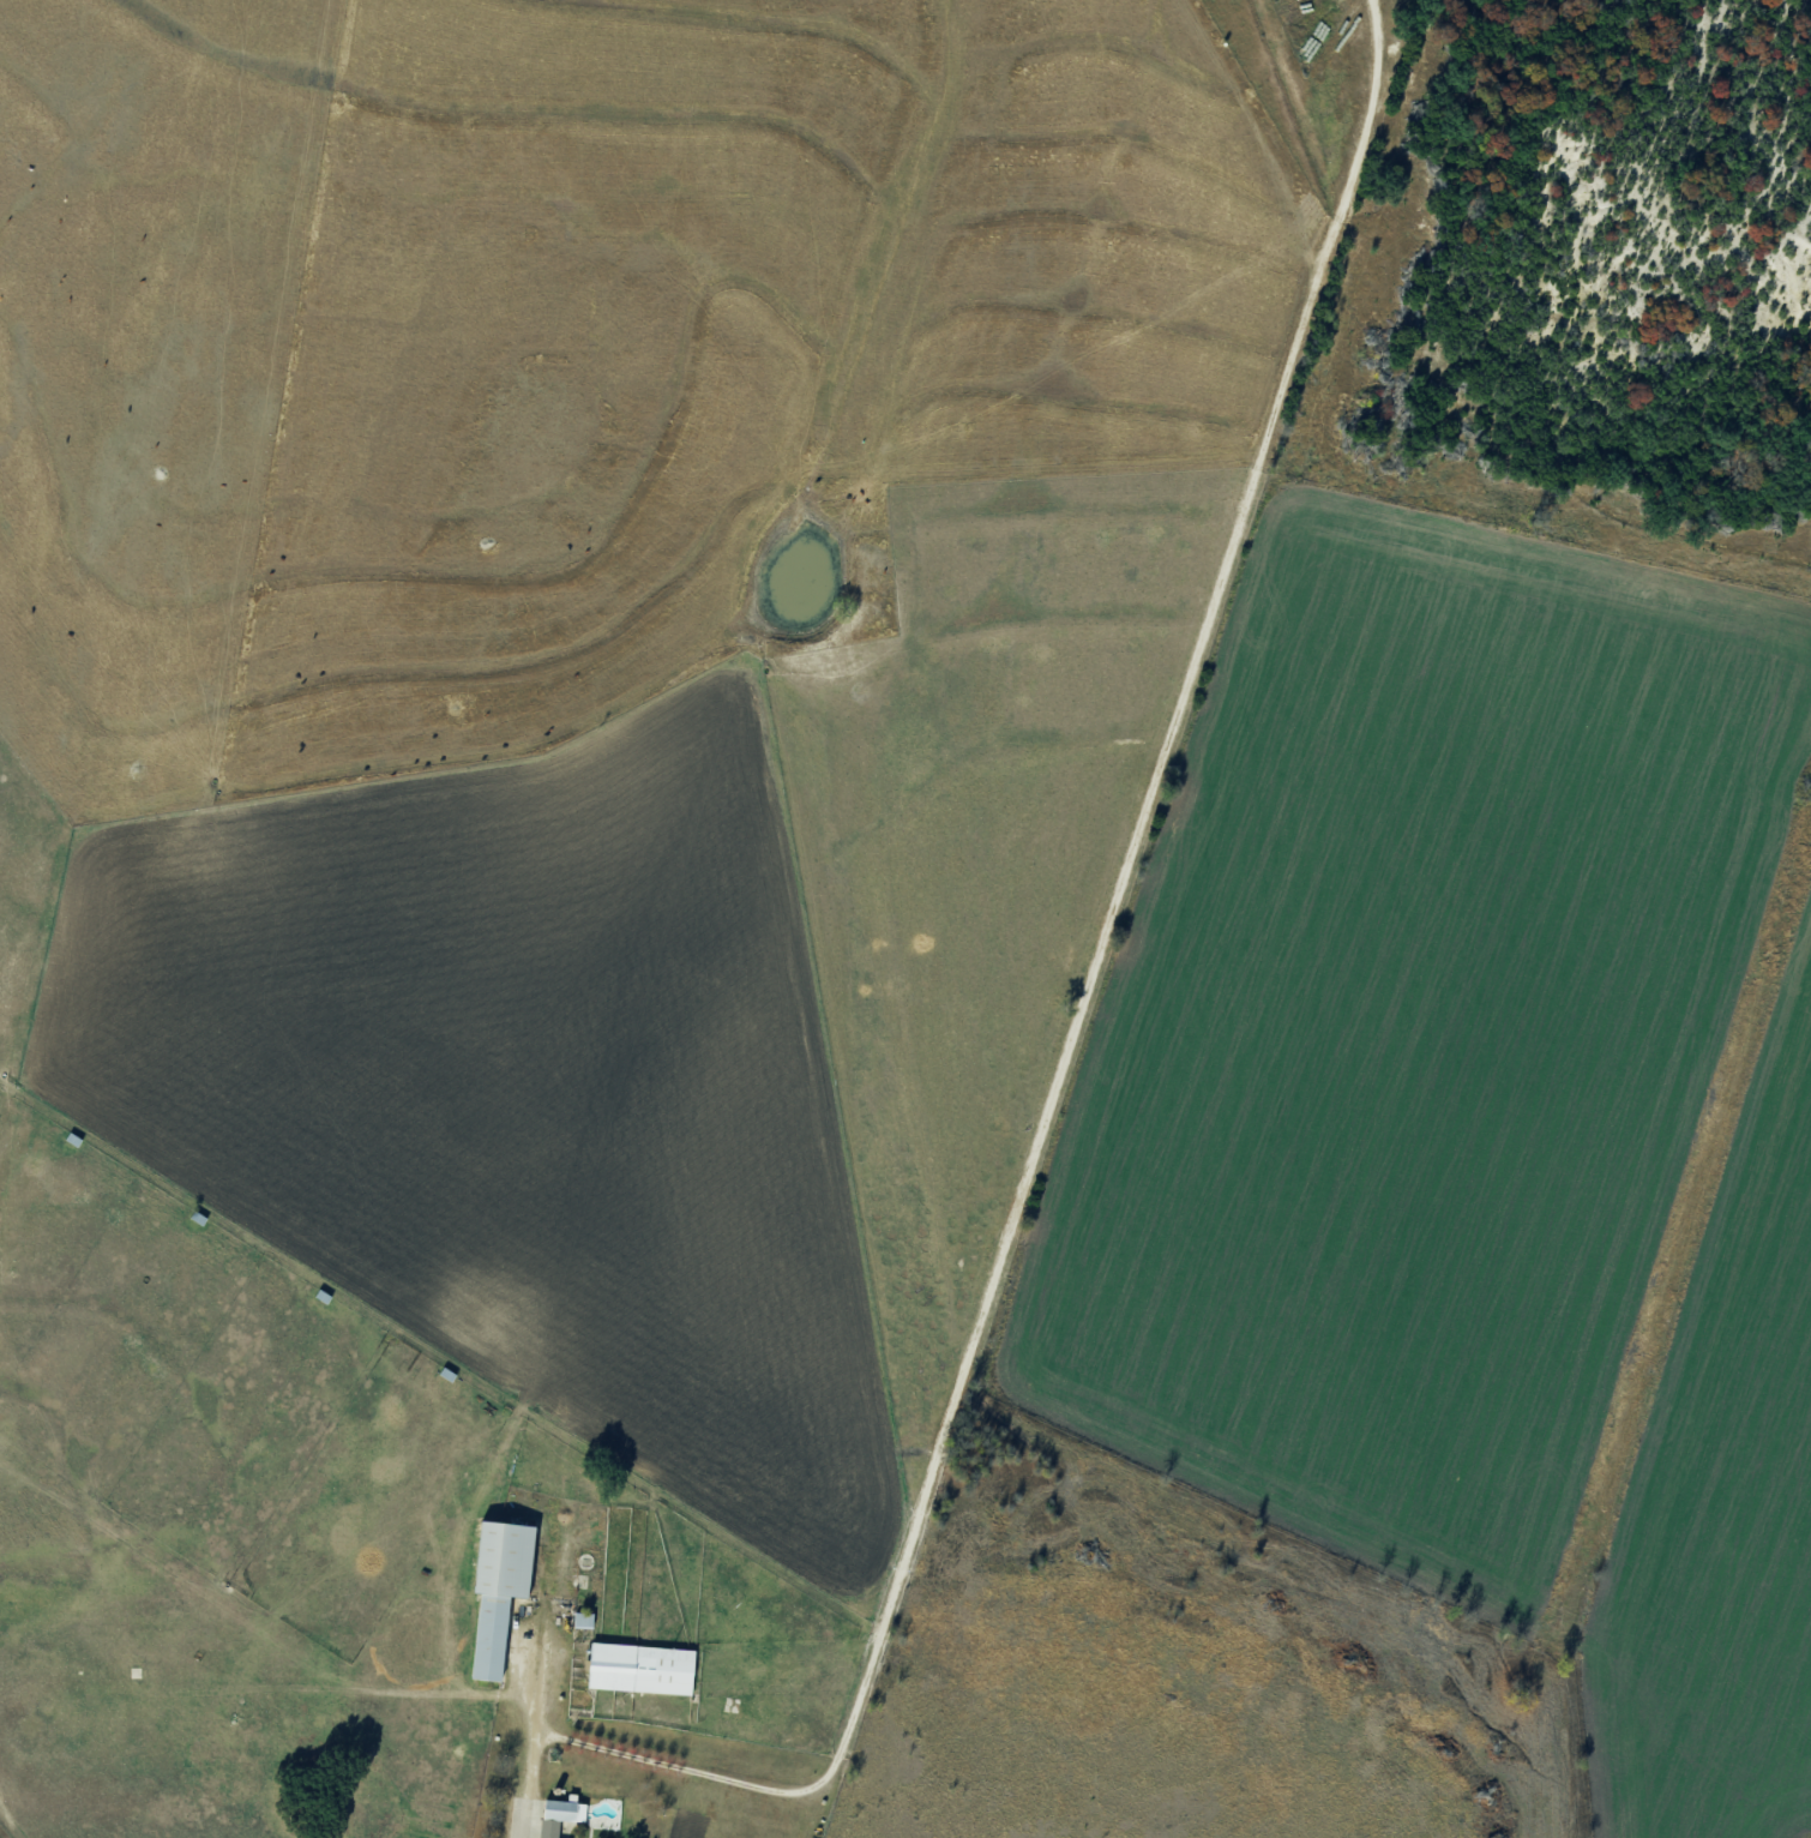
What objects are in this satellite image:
road: (1106, 1092)
building: (500, 1591)
building: (643, 1668)
building: (560, 1815)

